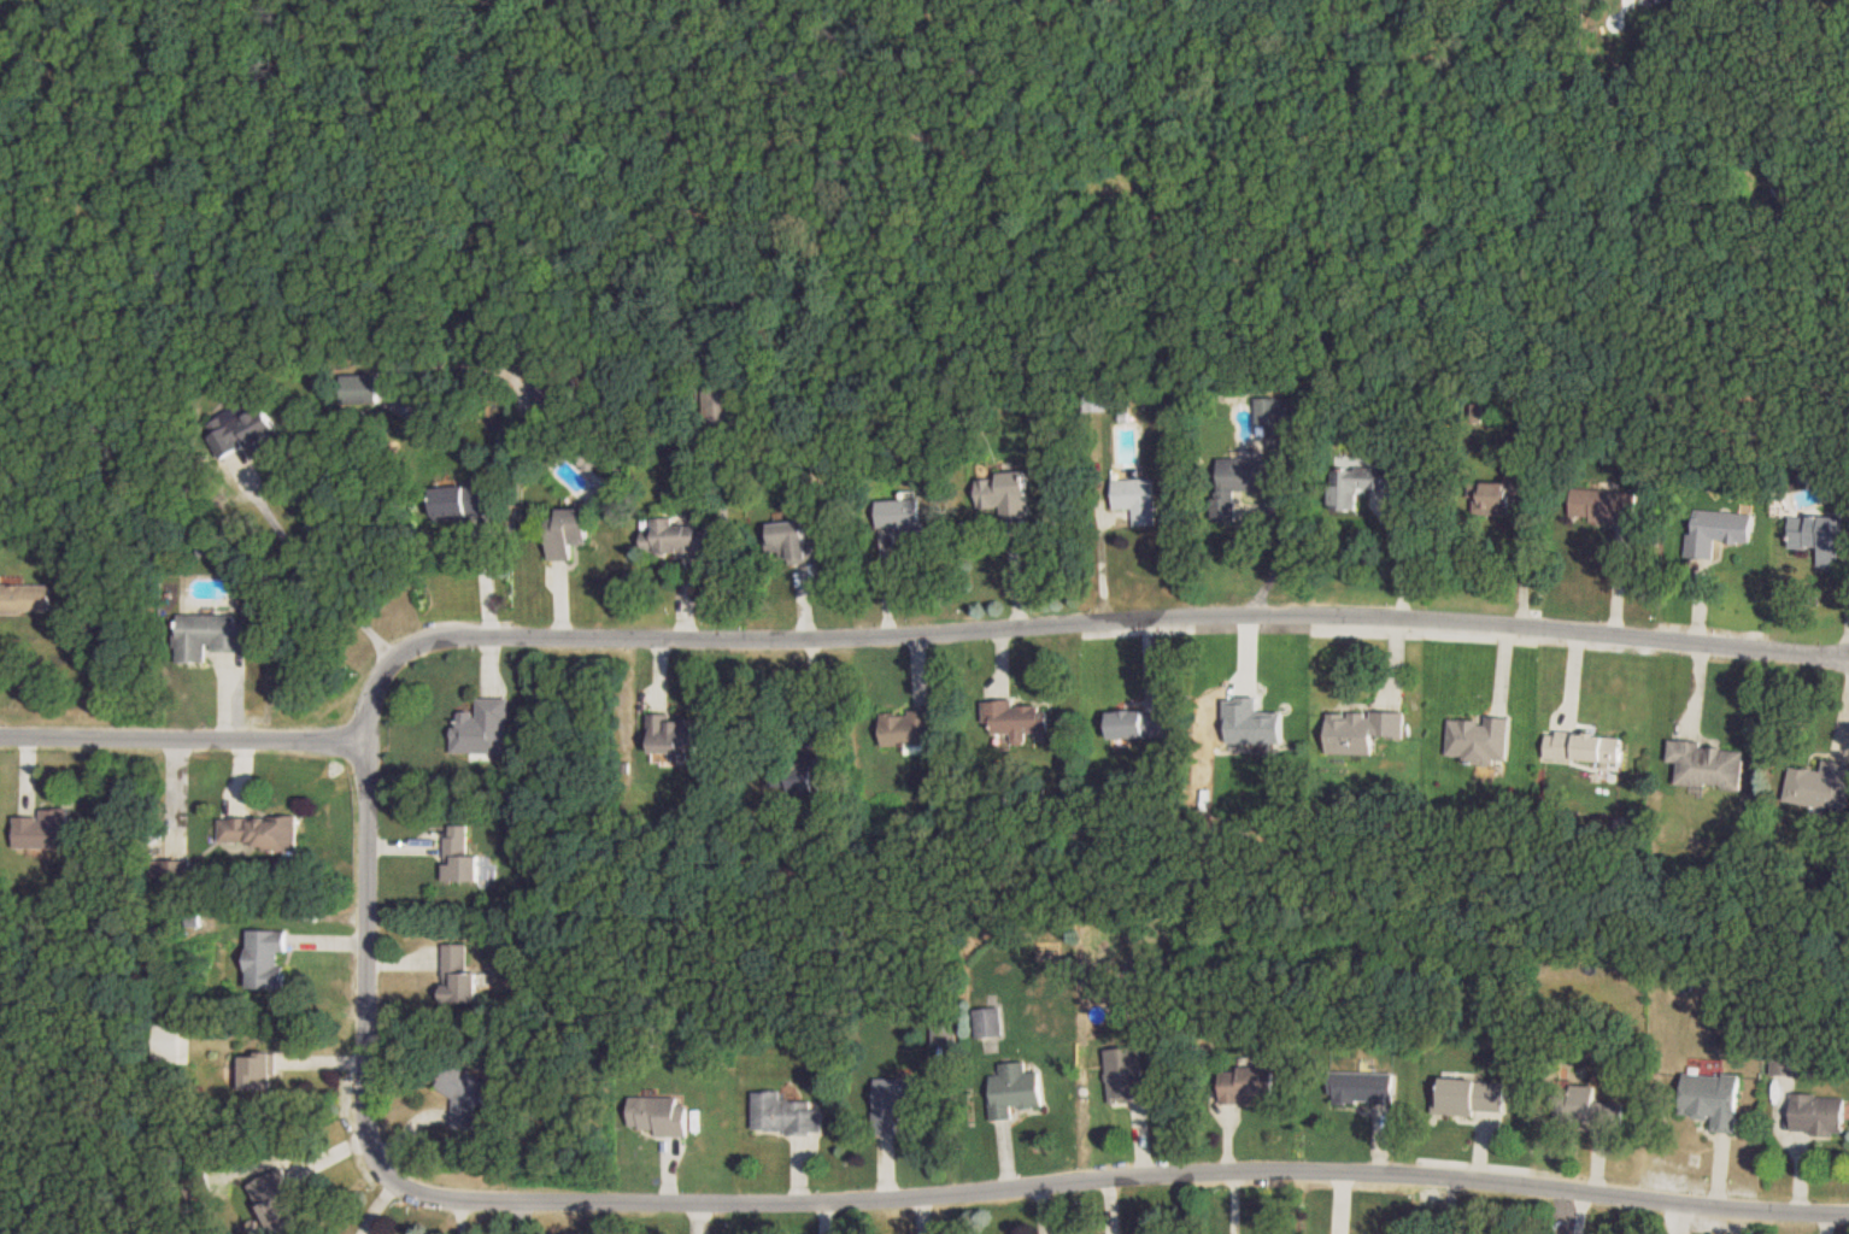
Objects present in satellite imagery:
building: (363, 388)
building: (558, 392)
building: (1097, 398)
building: (720, 402)
building: (1275, 410)
building: (245, 429)
building: (1239, 480)
building: (1362, 483)
building: (1004, 492)
building: (1491, 496)
building: (1138, 498)
building: (466, 500)
building: (1597, 506)
building: (905, 517)
building: (571, 531)
building: (1715, 531)
building: (1815, 536)
building: (675, 537)
building: (794, 539)
road: (315, 566)
building: (25, 597)
road: (1122, 622)
building: (211, 636)
building: (1016, 717)
building: (1143, 723)
building: (483, 728)
building: (910, 728)
building: (1363, 729)
building: (676, 734)
road: (181, 738)
building: (1477, 740)
building: (1581, 748)
building: (1706, 766)
building: (797, 771)
building: (1819, 787)
building: (45, 829)
building: (260, 832)
building: (463, 856)
road: (360, 933)
building: (269, 958)
building: (460, 976)
building: (991, 1028)
building: (945, 1032)
building: (1785, 1063)
building: (260, 1071)
building: (1127, 1074)
building: (1249, 1085)
building: (1363, 1087)
building: (1017, 1088)
building: (465, 1094)
building: (1467, 1097)
building: (897, 1100)
building: (1709, 1100)
building: (1583, 1107)
building: (787, 1113)
building: (1816, 1115)
building: (659, 1117)
road: (1128, 1177)
building: (277, 1199)

